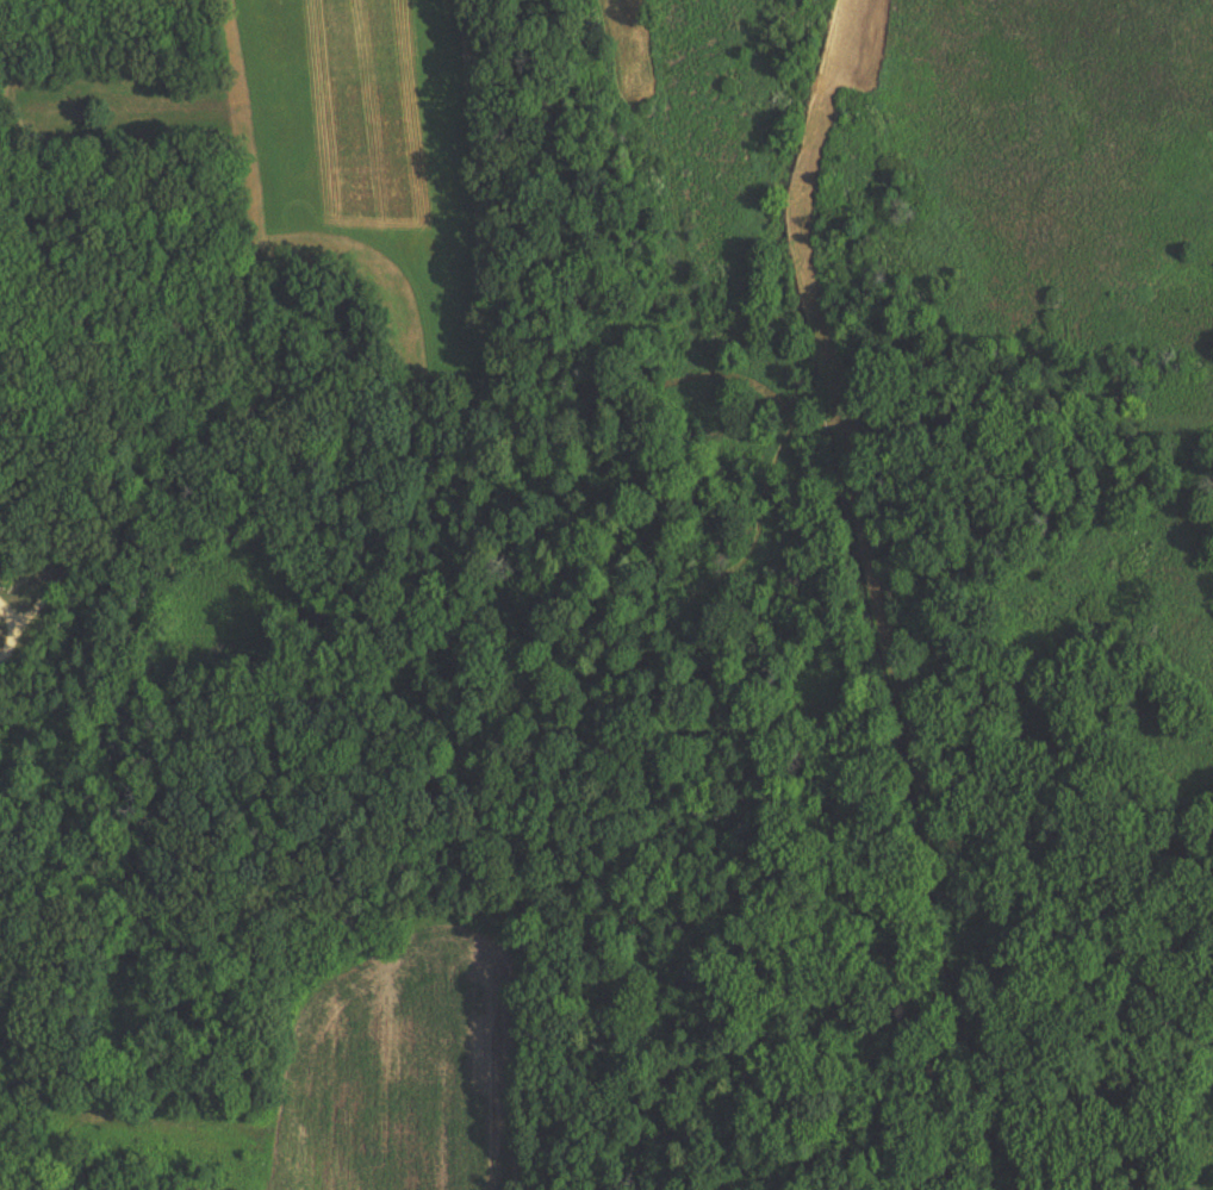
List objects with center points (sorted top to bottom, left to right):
road: (10, 625)

